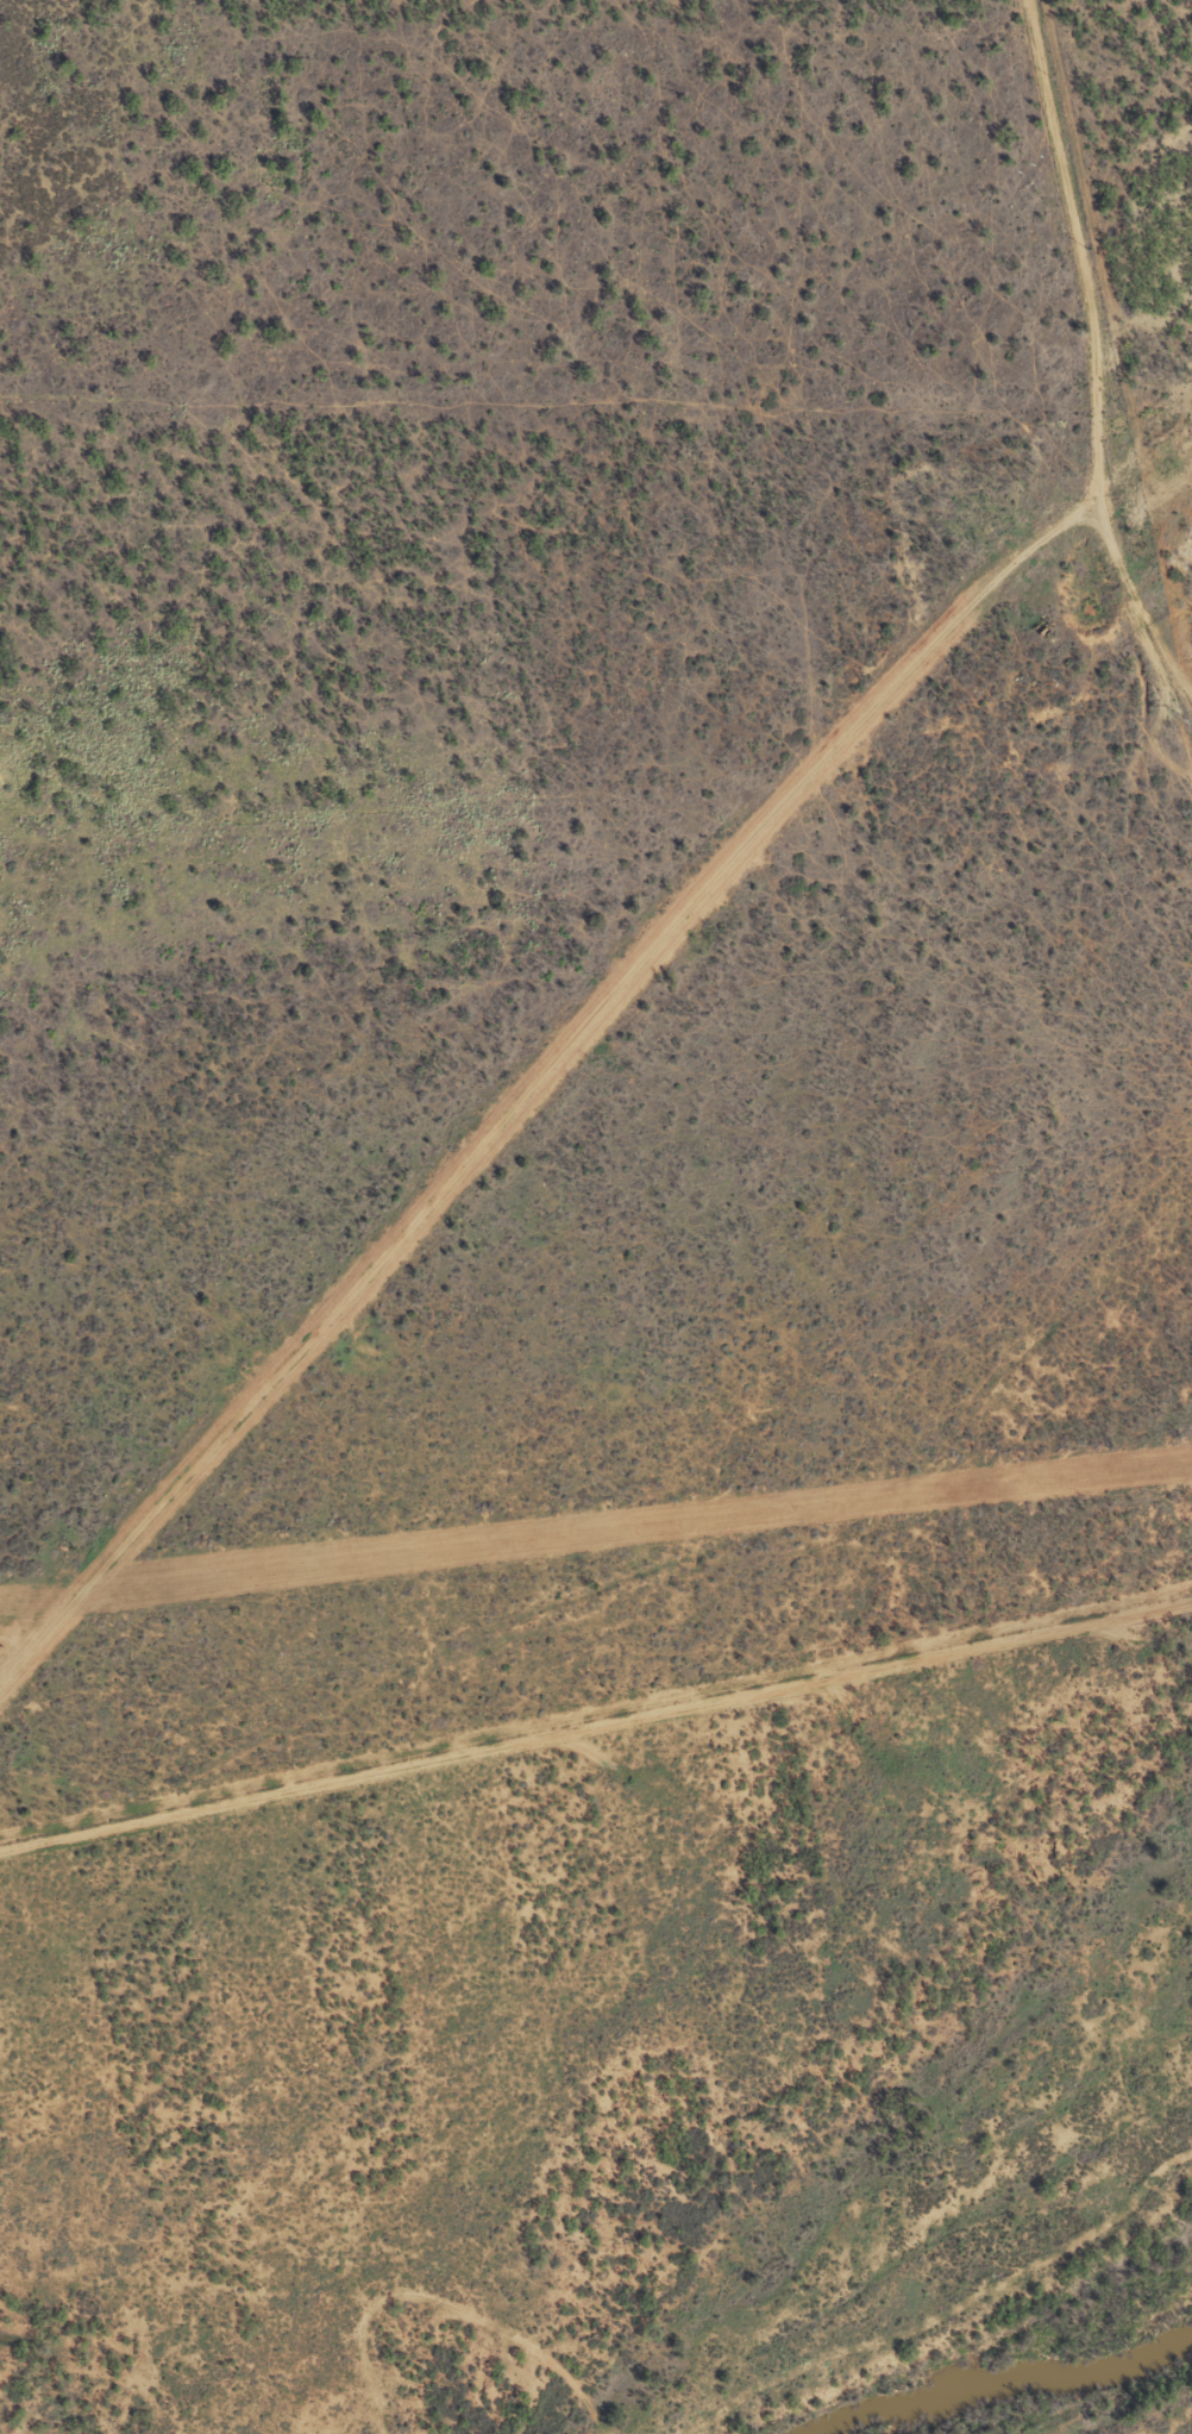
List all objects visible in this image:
road: (1112, 202)
road: (642, 1604)
river: (1003, 2383)

